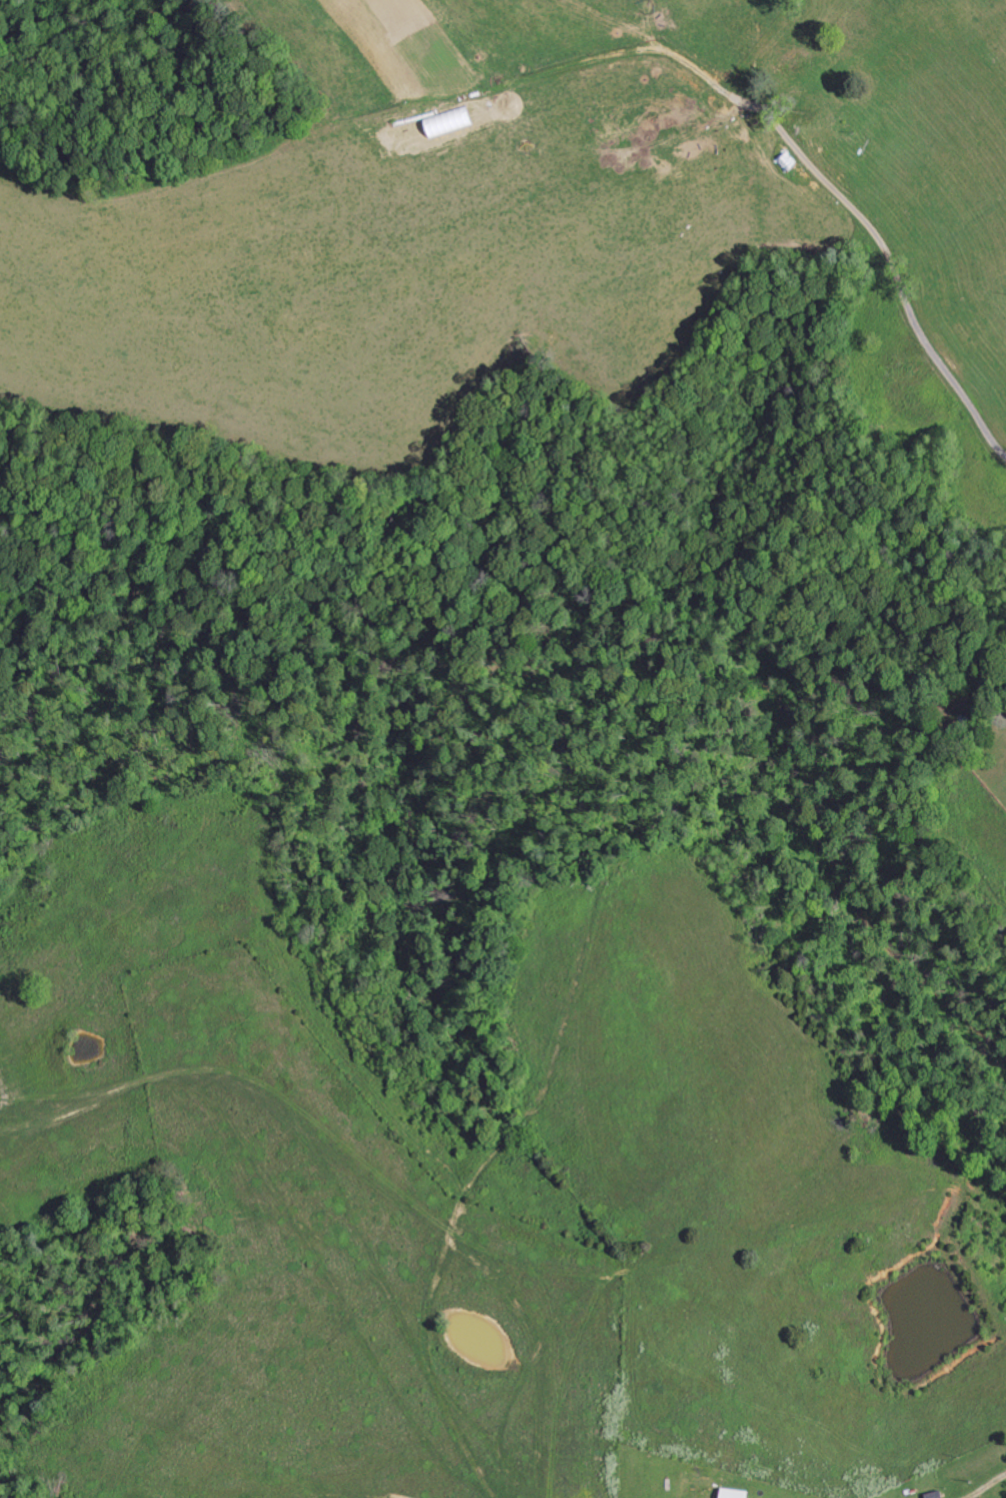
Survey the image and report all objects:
road: (894, 274)

